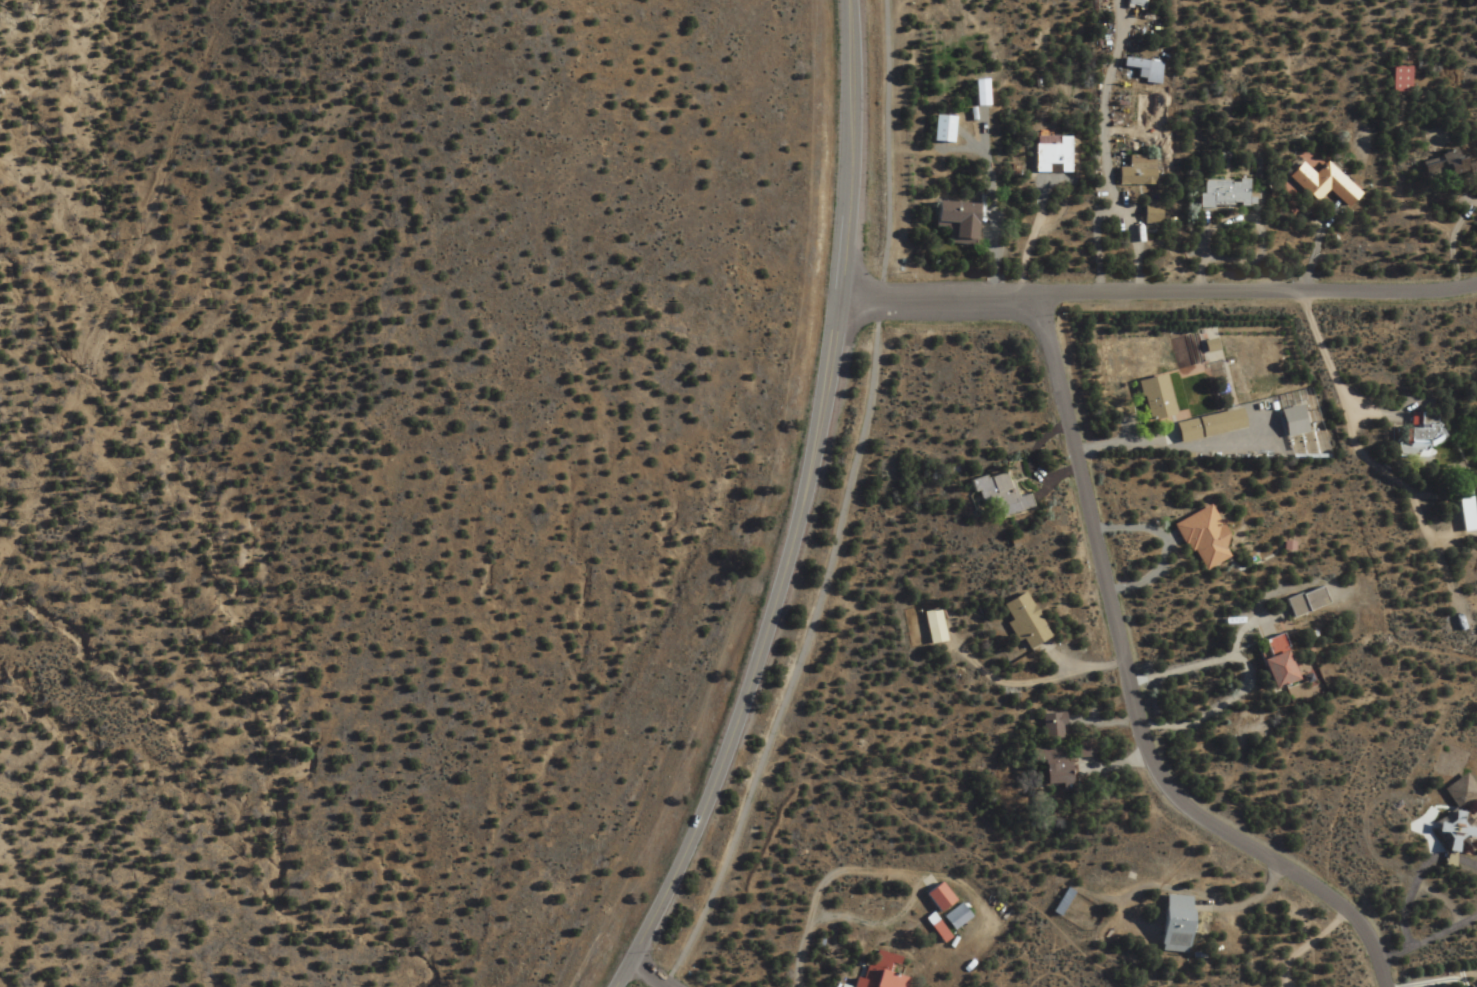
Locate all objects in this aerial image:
building: (1141, 70)
building: (1395, 80)
building: (939, 129)
building: (1048, 156)
building: (1442, 169)
building: (1133, 172)
road: (1110, 177)
building: (1318, 184)
building: (1220, 193)
building: (1146, 214)
building: (952, 221)
road: (992, 221)
road: (1029, 239)
road: (1452, 242)
road: (1200, 255)
road: (1314, 255)
road: (1160, 298)
road: (1326, 358)
building: (1151, 398)
building: (1203, 426)
building: (1414, 436)
road: (1122, 443)
road: (1032, 460)
building: (1001, 496)
building: (1475, 497)
road: (844, 507)
road: (802, 509)
building: (1463, 512)
road: (1354, 521)
building: (1199, 540)
road: (1166, 550)
building: (1301, 603)
building: (1028, 621)
building: (936, 626)
building: (1269, 667)
road: (1086, 668)
road: (1248, 672)
road: (1135, 691)
building: (1057, 725)
road: (1117, 764)
building: (1062, 767)
road: (955, 844)
road: (1469, 862)
building: (943, 897)
road: (1408, 898)
road: (1249, 901)
building: (959, 916)
building: (1182, 924)
building: (940, 928)
road: (1422, 942)
road: (1297, 948)
building: (884, 972)
road: (650, 974)
road: (1415, 984)
building: (846, 986)
building: (1465, 986)

